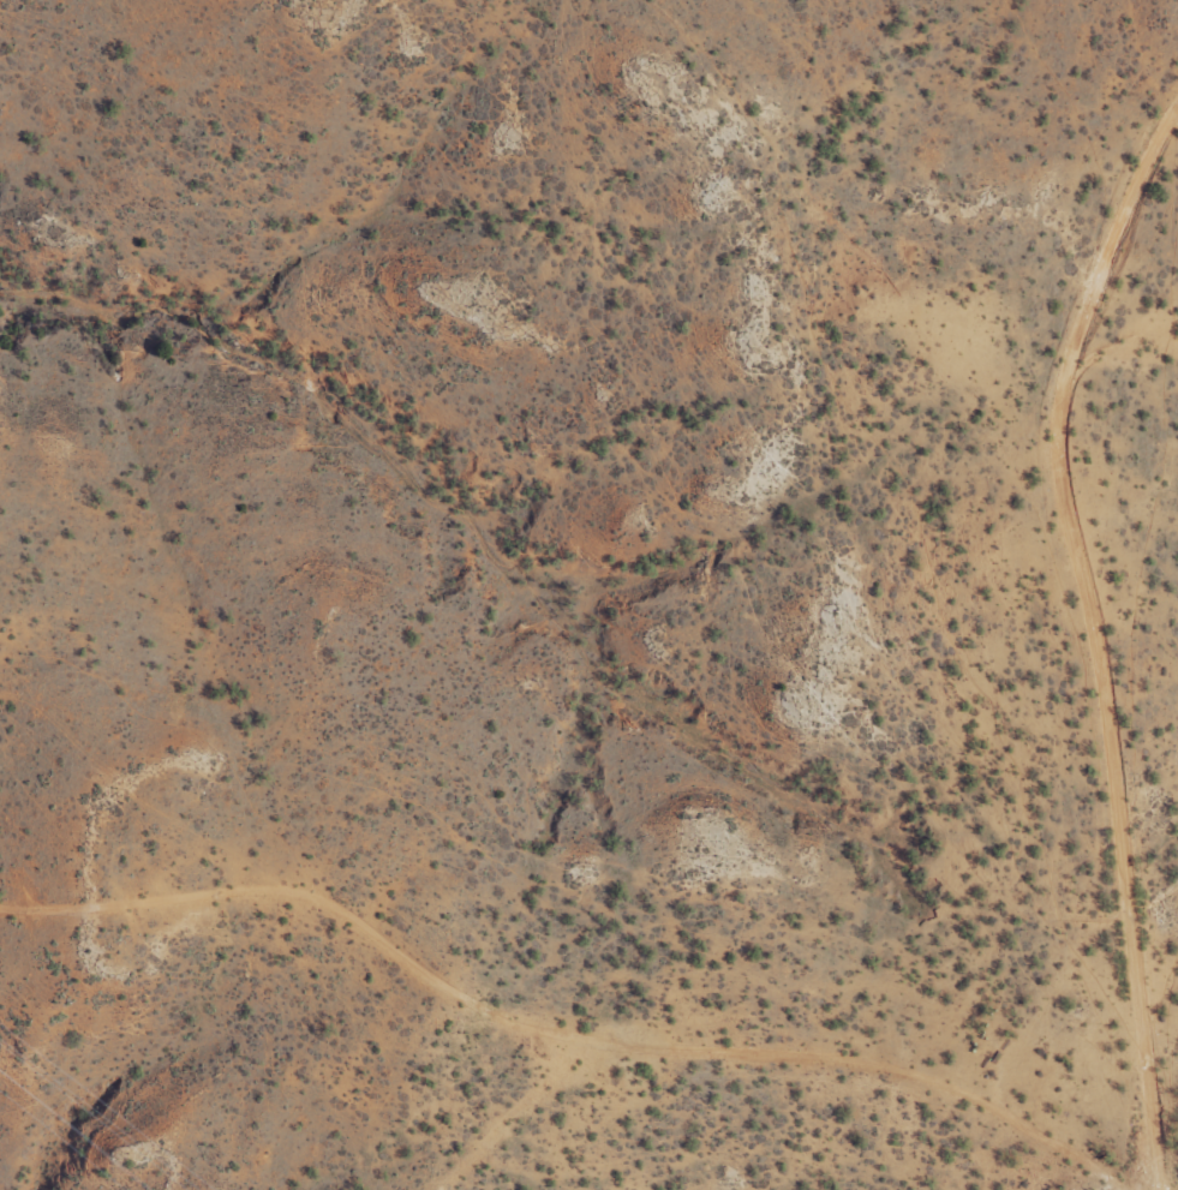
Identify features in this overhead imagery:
road: (1095, 630)

